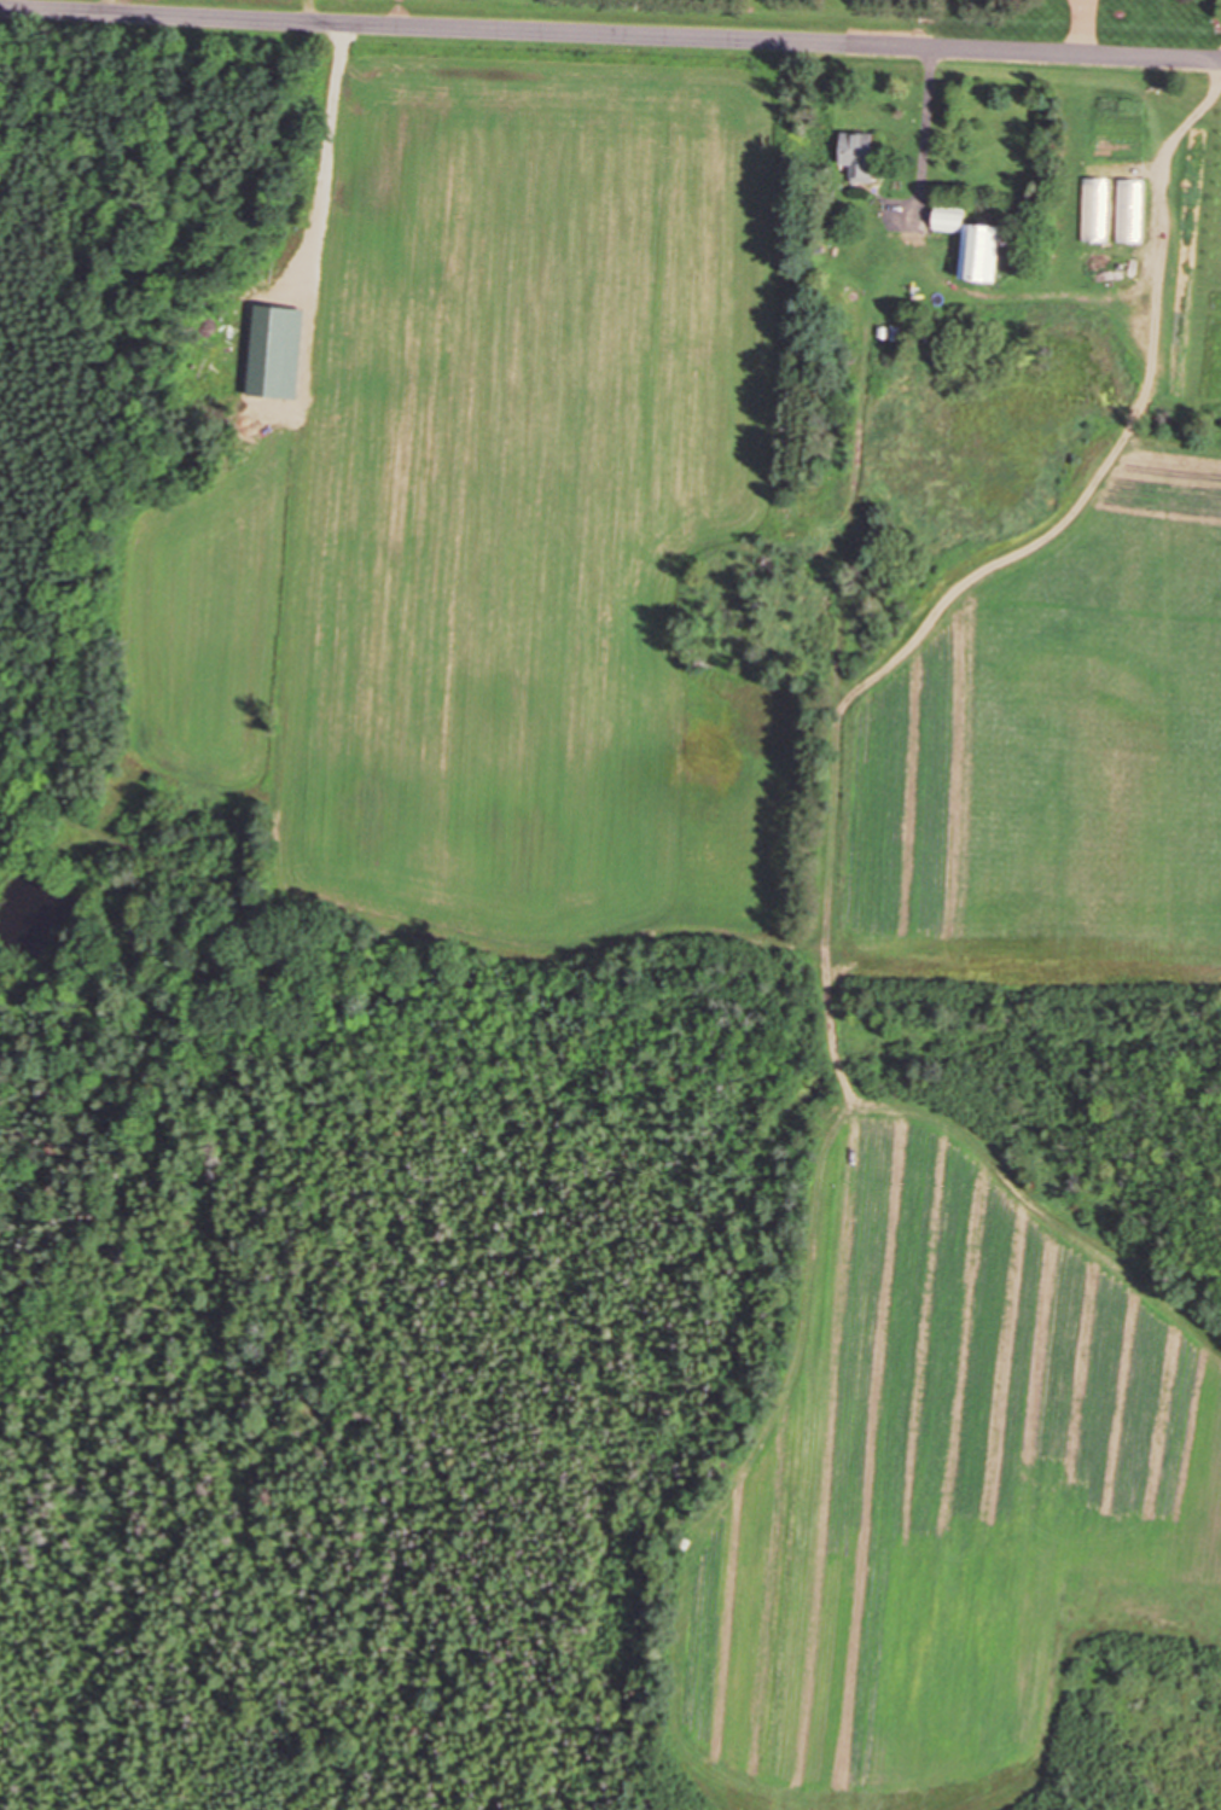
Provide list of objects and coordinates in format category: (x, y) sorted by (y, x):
road: (610, 30)
building: (854, 153)
building: (966, 244)

